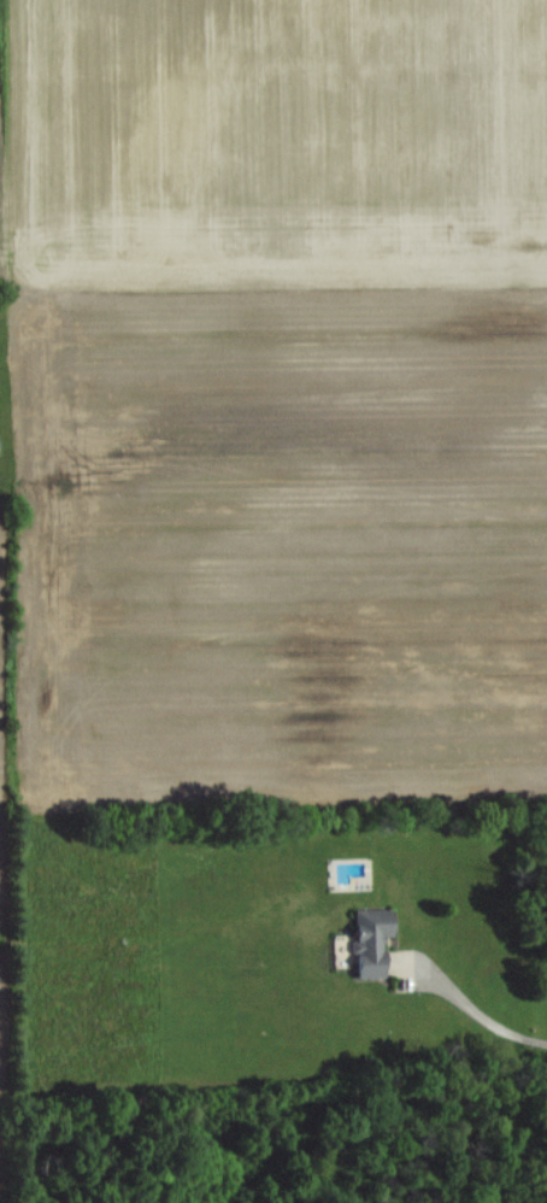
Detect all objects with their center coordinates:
road: (469, 1015)

